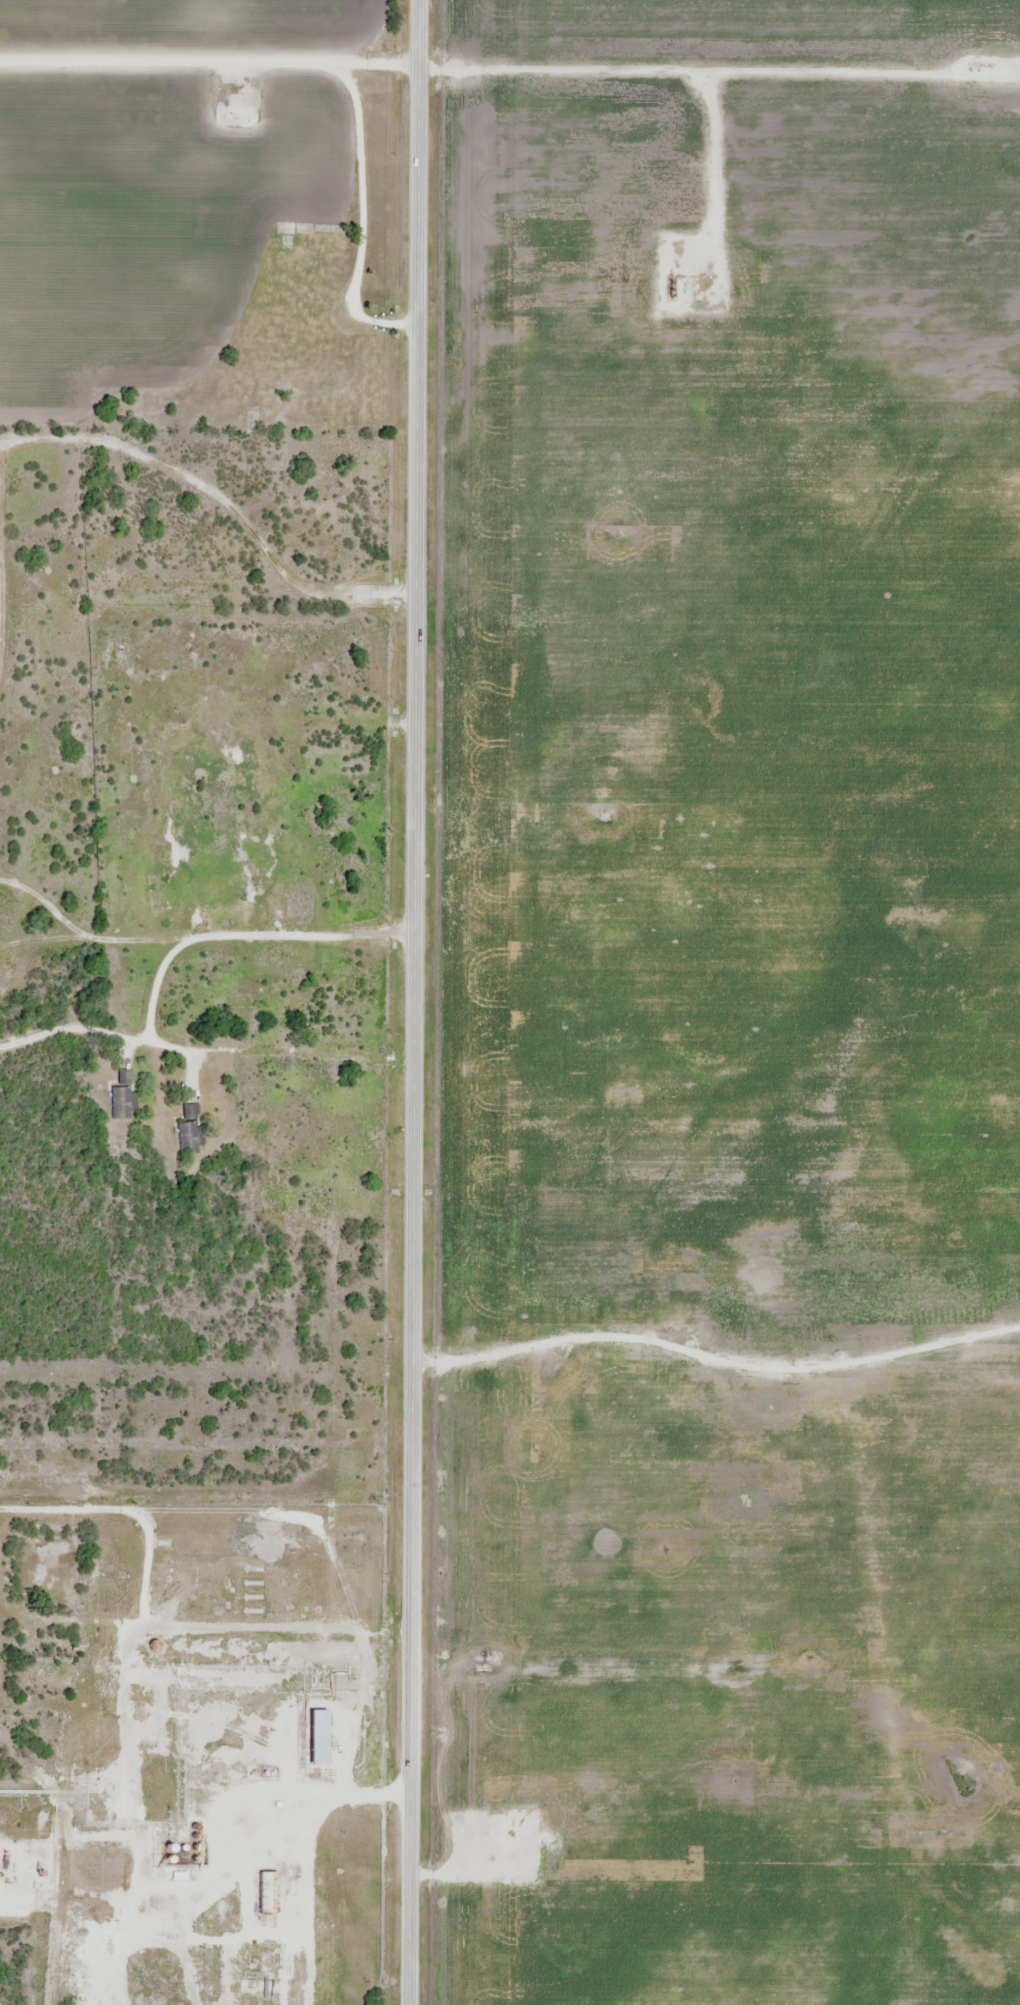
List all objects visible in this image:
building: (303, 888)
road: (416, 1002)
building: (123, 1103)
building: (188, 1132)
road: (480, 1376)
building: (320, 1738)
building: (254, 1899)

